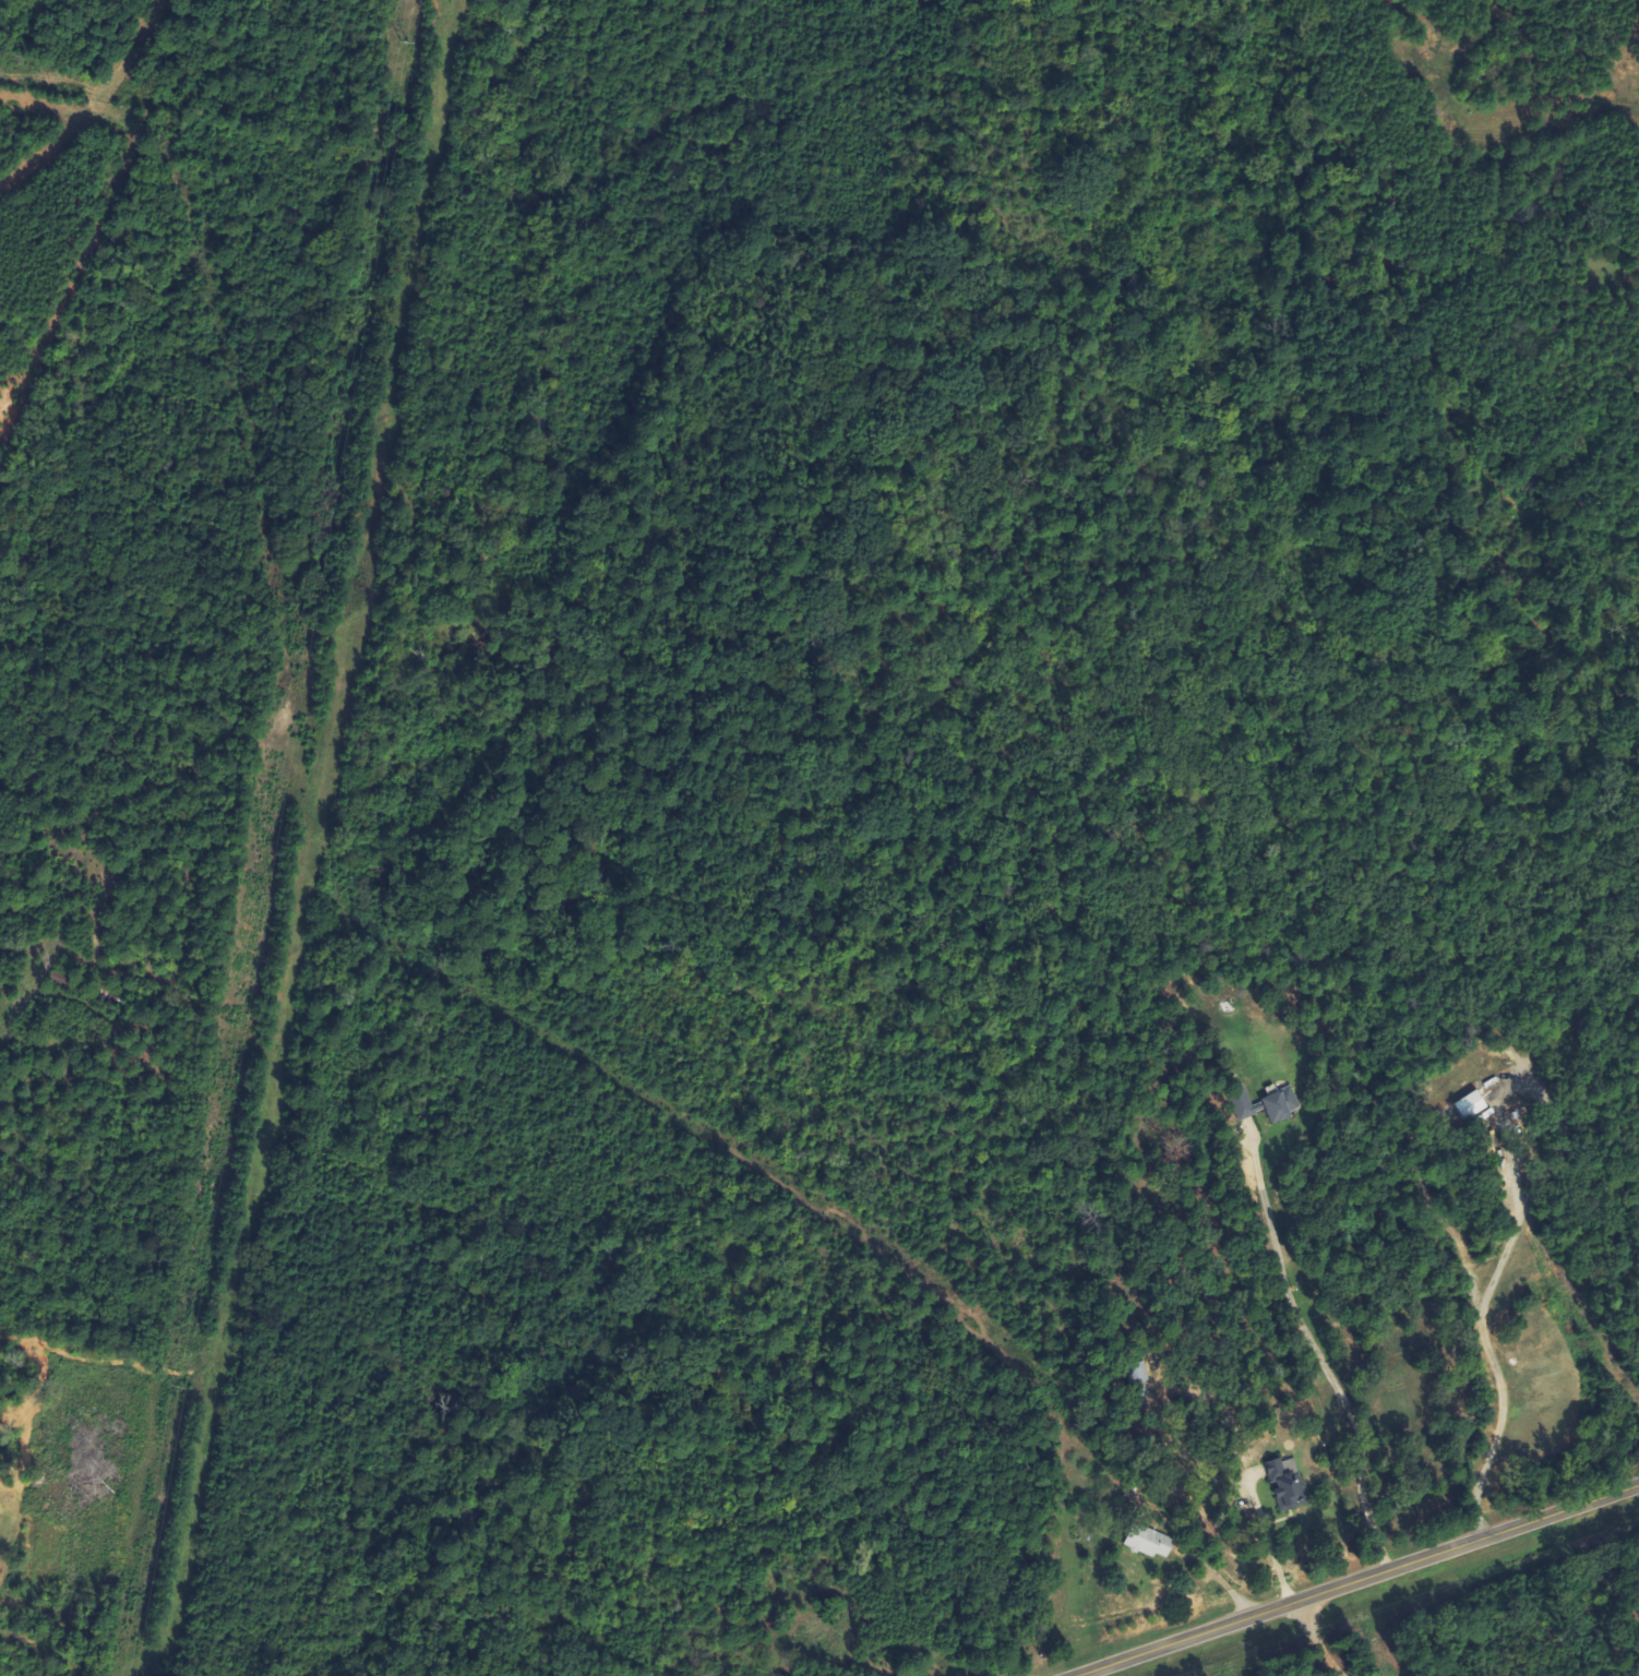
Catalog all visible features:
building: (1284, 1104)
building: (1473, 1105)
building: (1249, 1106)
road: (1318, 1351)
building: (1136, 1373)
building: (1284, 1483)
building: (0, 1515)
building: (1145, 1541)
road: (1357, 1580)
building: (822, 1639)

